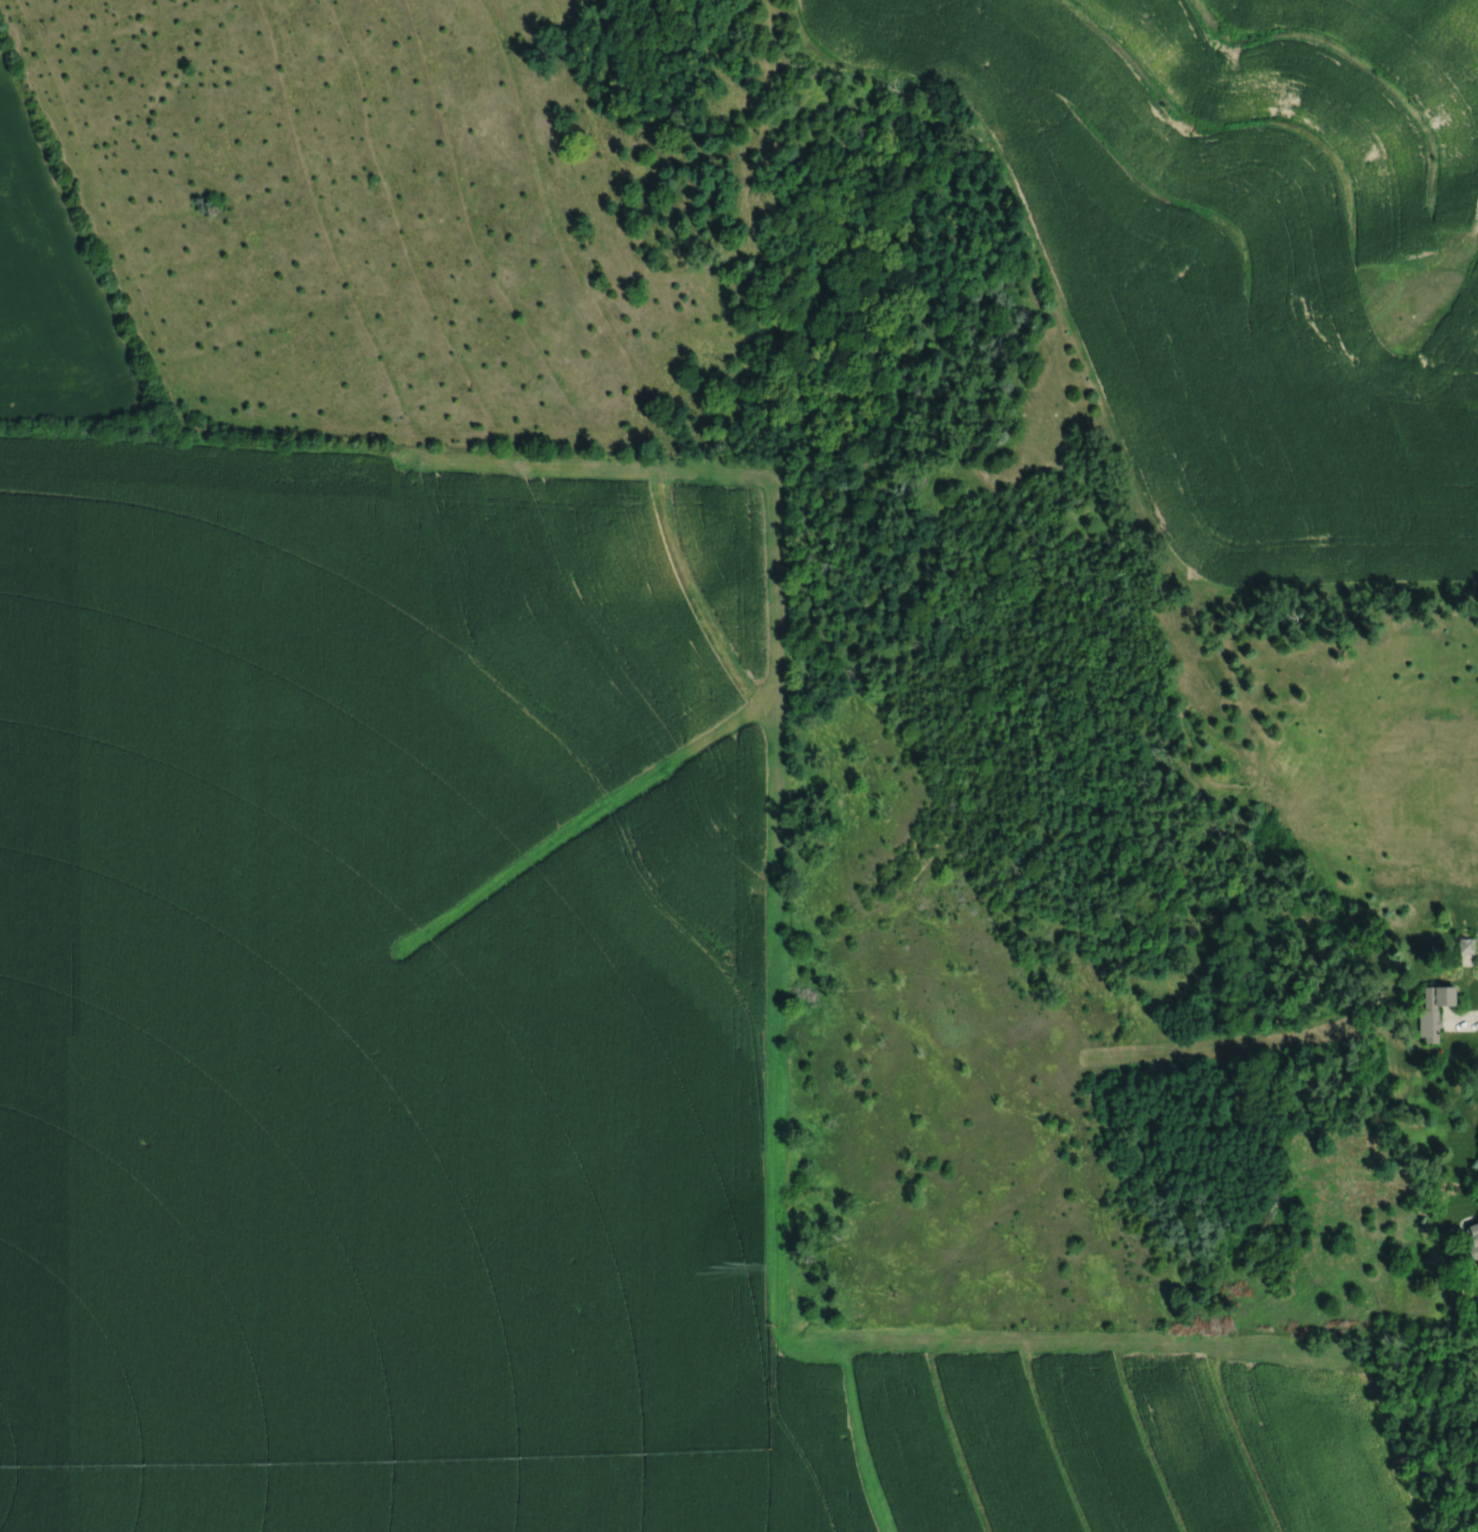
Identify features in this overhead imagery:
road: (1395, 661)
building: (1466, 946)
building: (1432, 1010)
road: (1462, 1023)
building: (1473, 1239)
building: (1477, 1267)

